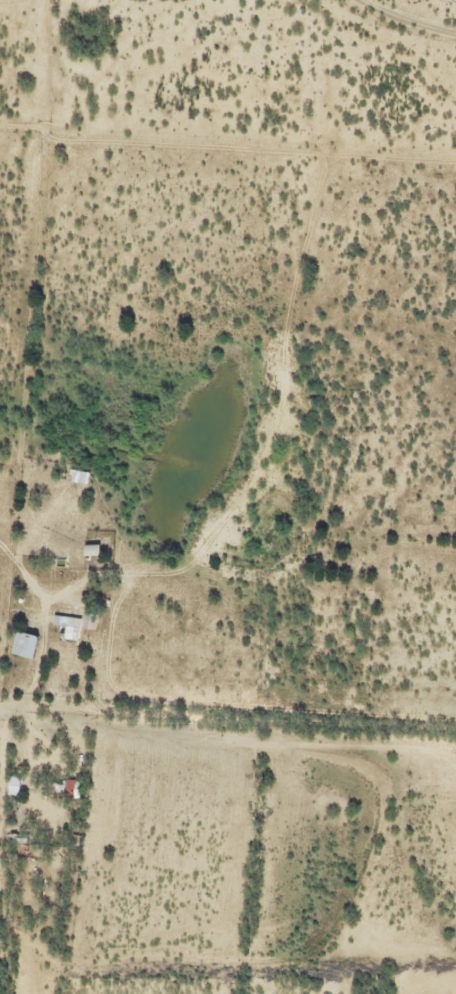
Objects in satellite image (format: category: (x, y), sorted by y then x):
road: (406, 22)

